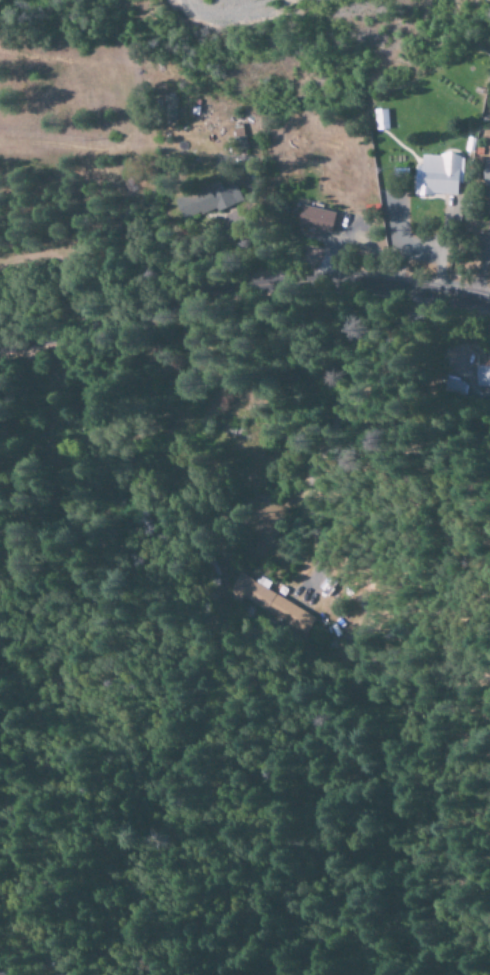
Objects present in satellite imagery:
building: (168, 108)
building: (380, 119)
building: (241, 151)
building: (437, 175)
building: (311, 218)
road: (242, 285)
building: (456, 385)
building: (270, 604)

